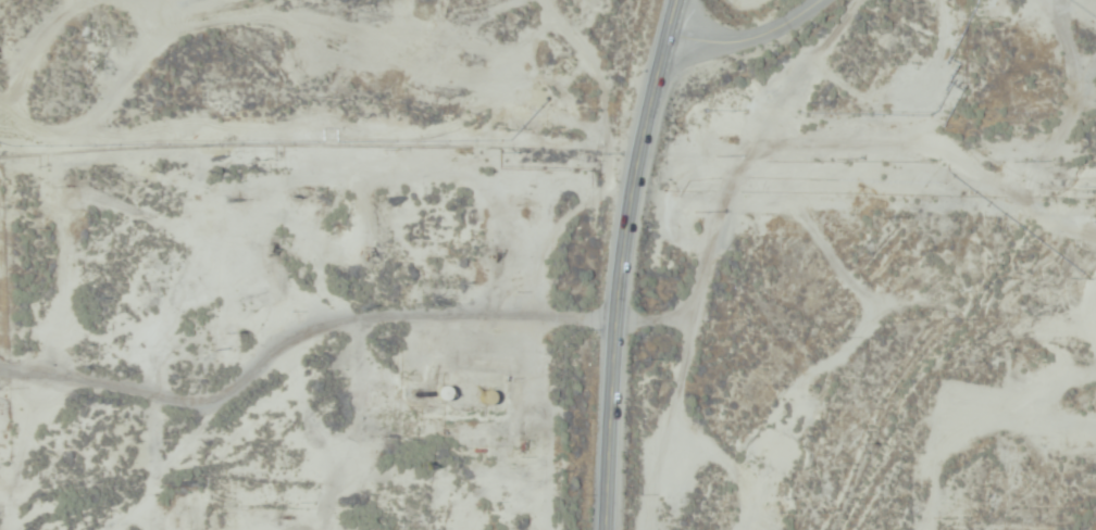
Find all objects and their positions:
road: (750, 38)
road: (321, 147)
road: (625, 261)
building: (465, 395)

